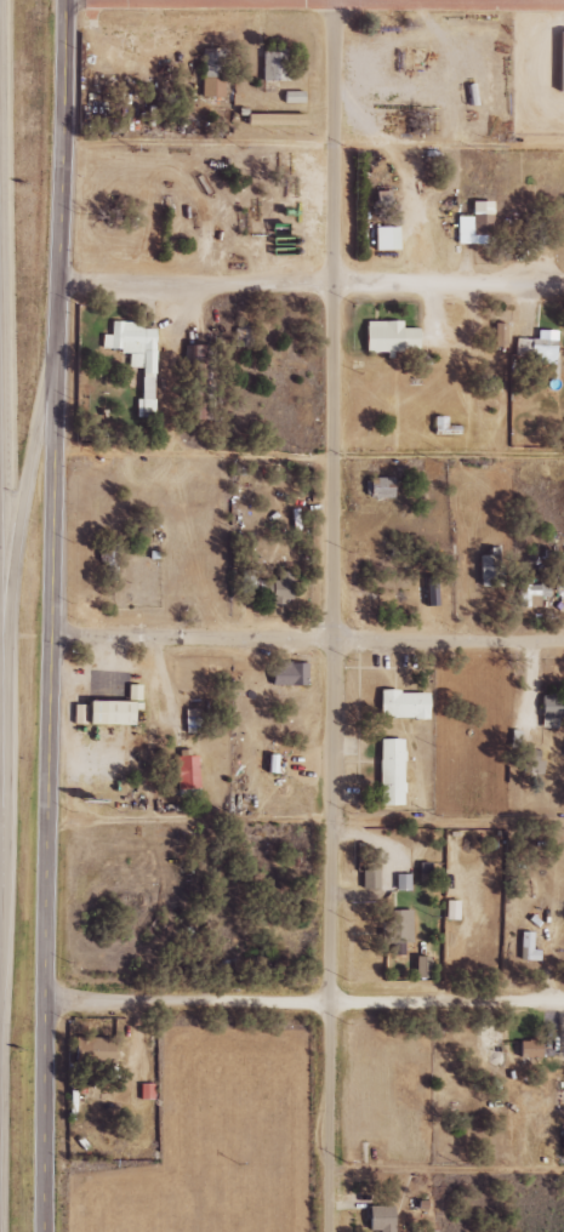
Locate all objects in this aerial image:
road: (449, 0)
building: (558, 62)
building: (270, 65)
building: (209, 72)
building: (289, 97)
building: (272, 120)
road: (313, 148)
building: (472, 224)
building: (529, 235)
building: (382, 238)
road: (312, 289)
building: (243, 335)
building: (497, 335)
building: (386, 337)
building: (535, 347)
building: (133, 357)
building: (194, 381)
road: (309, 456)
building: (377, 487)
road: (21, 521)
building: (489, 569)
building: (266, 586)
building: (529, 594)
road: (53, 616)
road: (334, 616)
road: (2, 637)
road: (308, 638)
building: (285, 674)
building: (400, 705)
building: (551, 707)
building: (104, 709)
building: (189, 718)
building: (547, 723)
building: (526, 760)
building: (184, 771)
building: (387, 772)
road: (306, 822)
building: (366, 882)
building: (400, 882)
building: (450, 909)
building: (399, 926)
building: (525, 948)
building: (418, 968)
road: (303, 1000)
building: (525, 1049)
building: (107, 1061)
building: (144, 1091)
road: (445, 1176)
building: (377, 1217)
building: (393, 1220)

